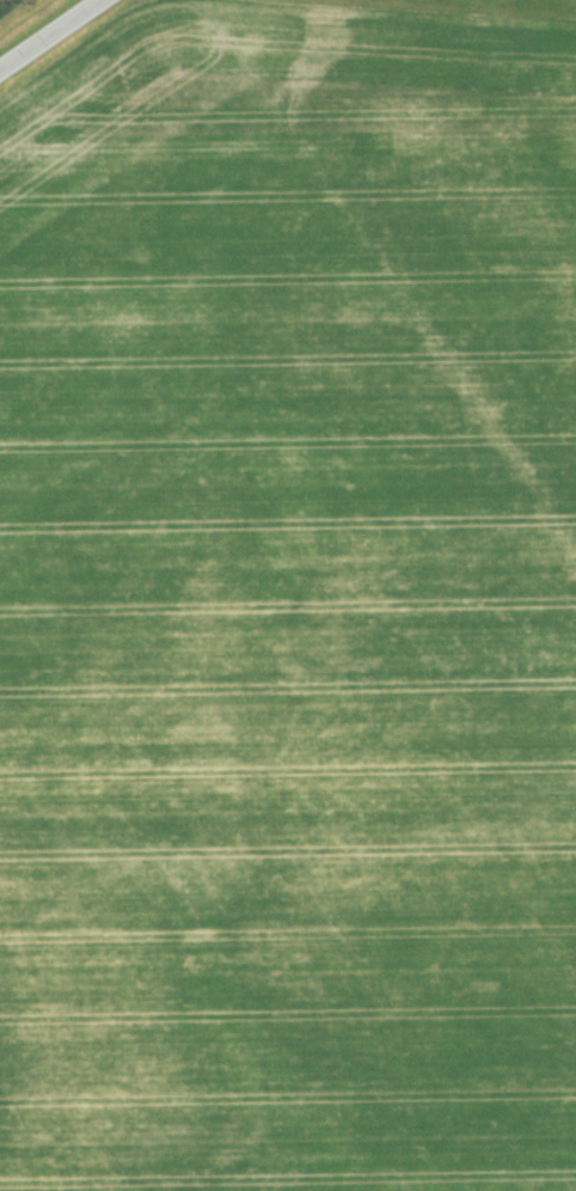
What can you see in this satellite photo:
crop: (7, 5)
road: (50, 35)
crop: (289, 604)

